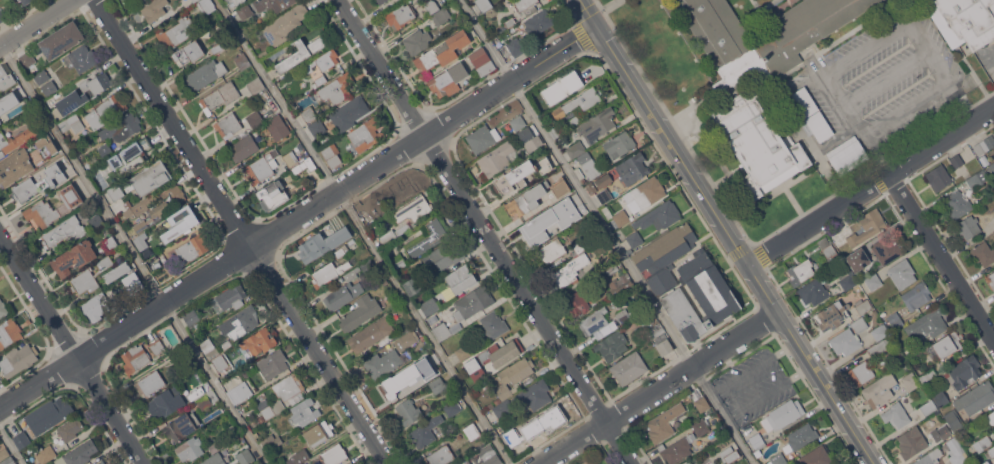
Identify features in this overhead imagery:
building: (19, 0)
building: (194, 0)
building: (424, 0)
building: (26, 1)
building: (137, 1)
building: (238, 2)
building: (383, 4)
building: (483, 4)
building: (272, 5)
building: (205, 6)
building: (432, 6)
building: (520, 6)
building: (153, 9)
building: (245, 11)
building: (5, 12)
building: (400, 15)
building: (440, 16)
building: (963, 20)
road: (36, 22)
building: (510, 22)
building: (538, 22)
building: (487, 23)
building: (284, 24)
traffic signals: (598, 27)
building: (244, 29)
building: (177, 32)
building: (61, 40)
building: (416, 41)
building: (219, 44)
building: (514, 47)
road: (866, 48)
building: (442, 51)
building: (188, 52)
building: (300, 52)
building: (83, 57)
building: (27, 59)
building: (242, 60)
building: (323, 61)
building: (482, 61)
road: (943, 70)
building: (207, 73)
building: (41, 76)
building: (761, 77)
road: (886, 77)
building: (5, 79)
building: (319, 80)
building: (448, 80)
building: (256, 85)
building: (94, 86)
building: (49, 87)
building: (337, 88)
building: (563, 88)
building: (66, 95)
building: (219, 97)
building: (804, 101)
building: (8, 102)
building: (580, 102)
road: (908, 109)
building: (105, 111)
building: (10, 113)
building: (308, 113)
building: (349, 113)
building: (255, 118)
building: (574, 120)
building: (277, 122)
building: (517, 122)
building: (72, 123)
road: (856, 124)
building: (228, 125)
building: (597, 125)
building: (819, 126)
building: (122, 127)
building: (317, 127)
building: (557, 129)
building: (993, 131)
building: (366, 134)
building: (482, 138)
building: (15, 139)
building: (530, 139)
road: (941, 141)
building: (619, 144)
building: (46, 145)
building: (984, 145)
building: (243, 147)
building: (105, 150)
building: (1, 153)
building: (331, 154)
building: (847, 155)
building: (131, 156)
building: (290, 158)
building: (497, 159)
building: (584, 159)
building: (956, 160)
building: (87, 165)
building: (303, 165)
building: (15, 166)
building: (992, 167)
building: (261, 168)
building: (626, 170)
building: (517, 176)
building: (151, 177)
building: (939, 177)
building: (977, 180)
building: (38, 183)
building: (560, 187)
building: (591, 187)
building: (403, 189)
building: (116, 191)
building: (645, 194)
building: (272, 195)
building: (604, 195)
building: (527, 199)
building: (169, 200)
building: (566, 204)
building: (958, 204)
building: (68, 205)
building: (140, 206)
building: (370, 213)
building: (659, 215)
building: (617, 216)
road: (299, 218)
building: (399, 220)
road: (818, 220)
building: (96, 221)
building: (180, 222)
building: (140, 226)
building: (968, 226)
building: (867, 227)
building: (535, 230)
building: (63, 231)
road: (242, 231)
road: (487, 231)
road: (608, 232)
road: (728, 232)
road: (360, 233)
building: (426, 236)
building: (634, 239)
building: (141, 241)
building: (110, 243)
building: (321, 244)
building: (579, 246)
building: (193, 247)
building: (827, 247)
building: (886, 249)
building: (552, 250)
building: (342, 251)
building: (983, 253)
road: (132, 254)
building: (443, 255)
building: (74, 257)
road: (941, 258)
building: (858, 260)
building: (398, 261)
building: (156, 265)
building: (368, 267)
building: (570, 271)
building: (800, 271)
building: (328, 272)
building: (902, 273)
building: (90, 277)
building: (134, 277)
building: (108, 278)
building: (461, 278)
building: (846, 279)
building: (990, 279)
building: (686, 281)
building: (619, 282)
building: (873, 282)
building: (413, 286)
building: (344, 291)
building: (813, 292)
building: (917, 295)
building: (229, 298)
building: (472, 302)
building: (577, 303)
building: (95, 306)
building: (429, 306)
building: (864, 307)
building: (3, 308)
building: (360, 312)
building: (832, 315)
building: (623, 316)
building: (191, 317)
building: (433, 319)
building: (646, 320)
building: (895, 320)
building: (593, 321)
building: (241, 322)
building: (928, 323)
building: (493, 324)
building: (859, 326)
building: (445, 330)
building: (655, 330)
building: (601, 331)
building: (9, 332)
building: (879, 332)
building: (371, 334)
building: (406, 340)
building: (260, 341)
building: (845, 342)
building: (664, 344)
building: (612, 345)
building: (947, 345)
building: (880, 346)
building: (156, 347)
road: (73, 348)
building: (209, 348)
building: (463, 352)
building: (176, 353)
building: (499, 354)
building: (135, 358)
building: (18, 360)
building: (221, 361)
building: (385, 362)
building: (423, 362)
building: (905, 363)
building: (273, 364)
building: (629, 368)
building: (965, 371)
building: (861, 373)
building: (927, 374)
building: (514, 375)
building: (910, 381)
building: (150, 383)
building: (438, 385)
building: (396, 387)
building: (289, 388)
road: (660, 388)
building: (879, 389)
building: (239, 392)
building: (196, 393)
building: (535, 394)
building: (940, 398)
building: (975, 398)
building: (208, 399)
building: (496, 400)
building: (166, 402)
building: (702, 404)
building: (270, 407)
building: (928, 407)
building: (452, 408)
building: (504, 409)
building: (304, 412)
building: (408, 412)
building: (783, 414)
building: (48, 415)
building: (896, 415)
building: (551, 418)
building: (261, 419)
building: (990, 419)
building: (954, 420)
building: (664, 423)
building: (182, 426)
building: (701, 426)
building: (70, 428)
building: (425, 430)
building: (233, 431)
building: (472, 431)
building: (945, 431)
building: (319, 433)
building: (800, 437)
building: (529, 439)
building: (21, 441)
building: (271, 442)
building: (912, 442)
building: (983, 444)
road: (11, 445)
building: (216, 446)
building: (190, 448)
building: (677, 449)
building: (758, 449)
building: (991, 450)
building: (955, 452)
building: (4, 453)
building: (46, 454)
building: (78, 454)
building: (334, 454)
building: (729, 454)
building: (440, 455)
building: (489, 455)
building: (245, 456)
building: (817, 456)
building: (298, 457)
building: (929, 457)
building: (992, 458)
building: (216, 460)
building: (9, 461)
building: (741, 461)
building: (100, 462)
building: (687, 462)
building: (985, 462)
building: (38, 463)
building: (102, 463)
building: (476, 463)
building: (596, 463)

